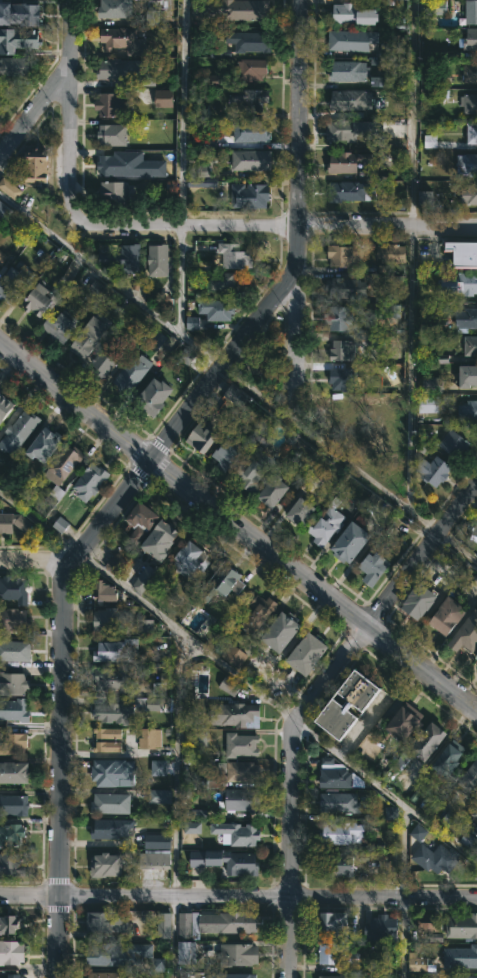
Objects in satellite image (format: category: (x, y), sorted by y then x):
building: (437, 7)
building: (114, 8)
building: (251, 9)
building: (469, 13)
building: (347, 14)
building: (26, 15)
building: (152, 16)
building: (366, 16)
building: (2, 35)
building: (119, 36)
building: (26, 37)
building: (470, 38)
building: (249, 40)
building: (352, 41)
building: (16, 67)
building: (251, 68)
building: (114, 69)
building: (349, 70)
building: (470, 71)
building: (380, 81)
road: (52, 84)
building: (163, 98)
building: (249, 98)
building: (351, 100)
building: (469, 102)
building: (110, 103)
road: (181, 112)
road: (411, 113)
road: (70, 116)
building: (250, 130)
building: (343, 130)
building: (471, 131)
road: (294, 132)
building: (112, 134)
building: (209, 141)
building: (429, 141)
building: (251, 159)
building: (352, 162)
building: (467, 163)
building: (112, 164)
building: (36, 168)
building: (203, 178)
building: (9, 188)
building: (347, 191)
building: (114, 192)
building: (249, 194)
building: (469, 194)
building: (425, 197)
building: (3, 212)
road: (257, 226)
building: (392, 252)
building: (463, 252)
building: (344, 254)
building: (234, 255)
building: (2, 256)
building: (107, 256)
building: (129, 257)
building: (158, 259)
road: (179, 279)
building: (223, 280)
building: (13, 281)
building: (460, 283)
building: (345, 286)
building: (96, 288)
building: (40, 299)
building: (216, 309)
building: (396, 313)
building: (466, 318)
building: (341, 319)
building: (190, 323)
building: (60, 325)
building: (89, 335)
road: (295, 338)
building: (471, 345)
building: (342, 350)
building: (185, 356)
building: (106, 358)
road: (409, 369)
building: (131, 373)
building: (468, 375)
building: (343, 378)
road: (237, 380)
building: (431, 384)
building: (154, 395)
building: (236, 396)
building: (428, 404)
building: (5, 405)
building: (385, 406)
building: (467, 410)
building: (348, 419)
building: (19, 428)
building: (201, 438)
building: (450, 443)
building: (44, 444)
building: (226, 452)
building: (254, 468)
building: (61, 471)
building: (434, 471)
building: (91, 481)
building: (273, 490)
building: (301, 512)
building: (14, 522)
building: (140, 522)
road: (238, 523)
building: (327, 523)
building: (60, 524)
building: (473, 533)
building: (161, 539)
building: (350, 542)
road: (36, 559)
building: (189, 561)
building: (114, 564)
building: (373, 568)
building: (143, 579)
building: (224, 582)
road: (61, 583)
building: (15, 589)
building: (104, 592)
building: (420, 599)
building: (259, 614)
building: (448, 614)
building: (12, 618)
building: (111, 620)
building: (145, 626)
building: (281, 632)
building: (466, 634)
building: (116, 650)
building: (14, 651)
building: (307, 654)
building: (234, 655)
building: (476, 656)
road: (238, 677)
building: (115, 679)
building: (13, 682)
building: (229, 686)
building: (159, 689)
road: (307, 702)
building: (348, 704)
building: (153, 705)
building: (14, 709)
building: (114, 713)
building: (237, 715)
building: (406, 721)
building: (108, 733)
building: (150, 738)
building: (198, 738)
building: (429, 740)
building: (14, 743)
building: (241, 745)
building: (107, 746)
building: (450, 757)
road: (175, 766)
building: (158, 767)
building: (13, 771)
building: (106, 771)
building: (240, 771)
building: (337, 776)
building: (470, 779)
building: (159, 796)
building: (242, 800)
building: (110, 803)
building: (337, 803)
building: (14, 805)
building: (195, 813)
building: (390, 813)
building: (475, 813)
building: (451, 819)
building: (192, 827)
building: (110, 828)
building: (418, 832)
building: (11, 833)
building: (241, 833)
building: (342, 833)
building: (157, 841)
building: (370, 853)
building: (436, 858)
building: (155, 859)
building: (227, 860)
building: (11, 865)
building: (106, 865)
building: (337, 865)
road: (238, 898)
building: (106, 922)
building: (215, 922)
building: (8, 923)
building: (332, 924)
building: (449, 924)
building: (161, 925)
building: (382, 927)
road: (173, 938)
road: (401, 939)
building: (11, 952)
building: (186, 952)
building: (106, 955)
building: (239, 955)
building: (337, 955)
building: (461, 957)
building: (416, 963)
building: (157, 965)
building: (104, 975)
building: (234, 975)
building: (13, 976)
building: (337, 976)
building: (1, 977)
building: (462, 977)

